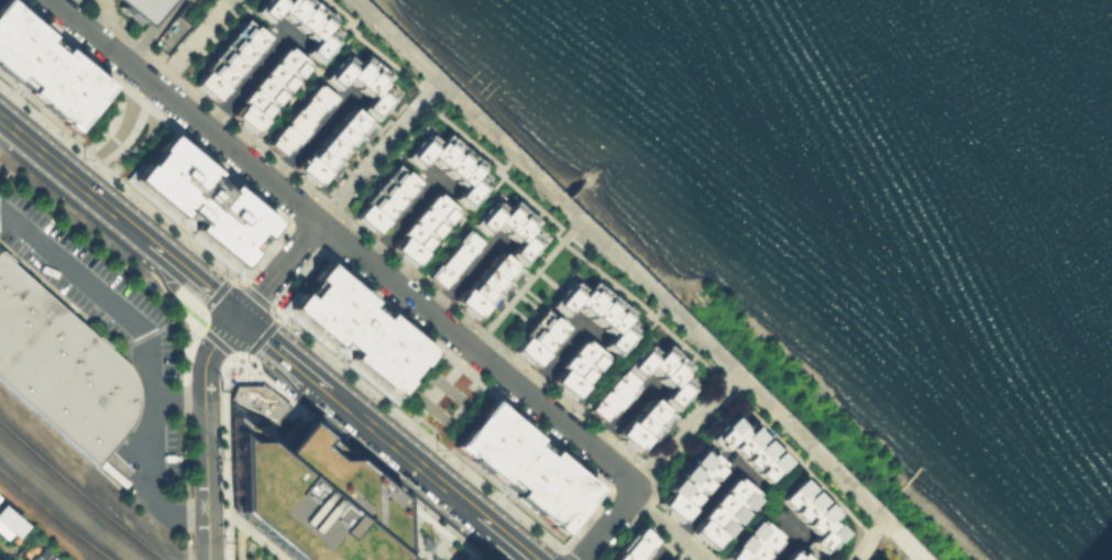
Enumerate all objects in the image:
building: (132, 7)
building: (296, 21)
building: (174, 25)
road: (189, 42)
road: (102, 43)
building: (227, 61)
building: (45, 66)
building: (353, 80)
building: (264, 86)
building: (295, 118)
road: (4, 121)
road: (4, 131)
road: (304, 133)
building: (327, 144)
road: (374, 151)
road: (236, 154)
building: (442, 164)
road: (85, 187)
building: (200, 197)
building: (381, 199)
building: (419, 226)
building: (505, 227)
building: (449, 257)
road: (617, 262)
road: (279, 270)
road: (200, 283)
building: (482, 283)
road: (524, 284)
road: (395, 285)
building: (593, 312)
traffic signals: (241, 317)
building: (360, 327)
building: (537, 338)
road: (147, 351)
road: (290, 358)
building: (575, 365)
building: (62, 366)
building: (671, 377)
building: (260, 397)
road: (554, 416)
road: (616, 417)
building: (641, 422)
road: (683, 429)
road: (206, 432)
building: (744, 446)
road: (417, 463)
building: (522, 463)
railway: (51, 470)
road: (77, 471)
building: (687, 482)
building: (316, 497)
building: (722, 508)
building: (807, 512)
railway: (54, 516)
building: (7, 523)
road: (608, 524)
road: (667, 528)
road: (863, 536)
railway: (133, 537)
building: (751, 541)
road: (515, 543)
building: (632, 545)
building: (42, 556)
building: (791, 556)
building: (476, 559)
building: (880, 559)

